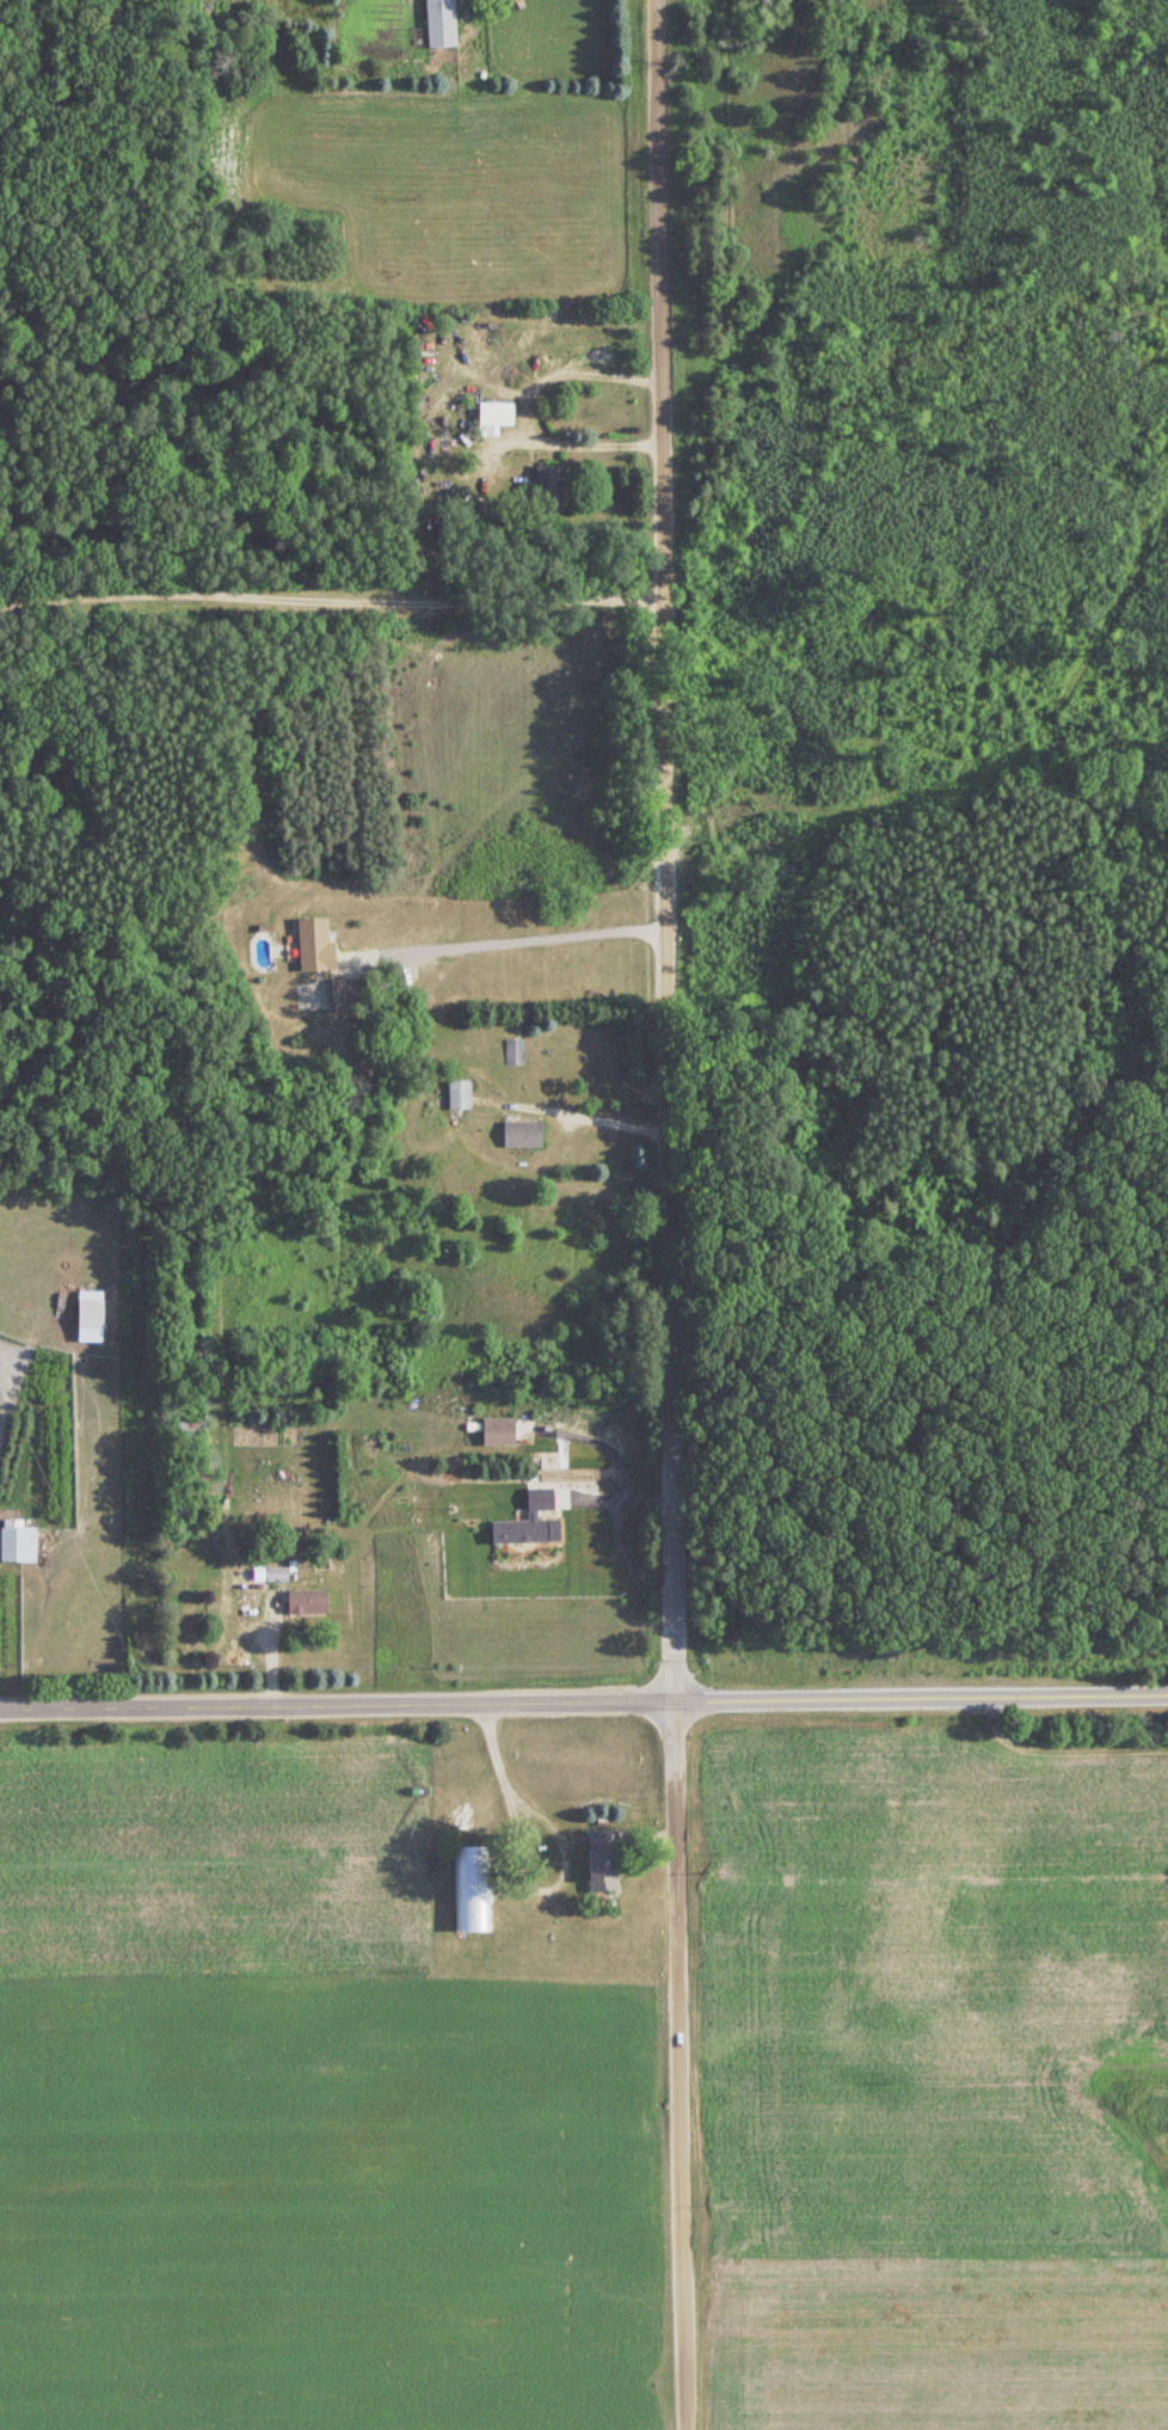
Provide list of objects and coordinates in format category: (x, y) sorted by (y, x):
building: (442, 23)
road: (522, 405)
building: (498, 413)
building: (548, 489)
road: (331, 603)
road: (518, 938)
building: (316, 945)
building: (349, 992)
building: (515, 1051)
building: (460, 1097)
road: (605, 1119)
building: (523, 1134)
road: (668, 1215)
road: (7, 1399)
building: (189, 1434)
road: (617, 1530)
building: (19, 1545)
building: (308, 1602)
road: (583, 1693)
building: (604, 1860)
road: (518, 1868)
building: (473, 1889)

